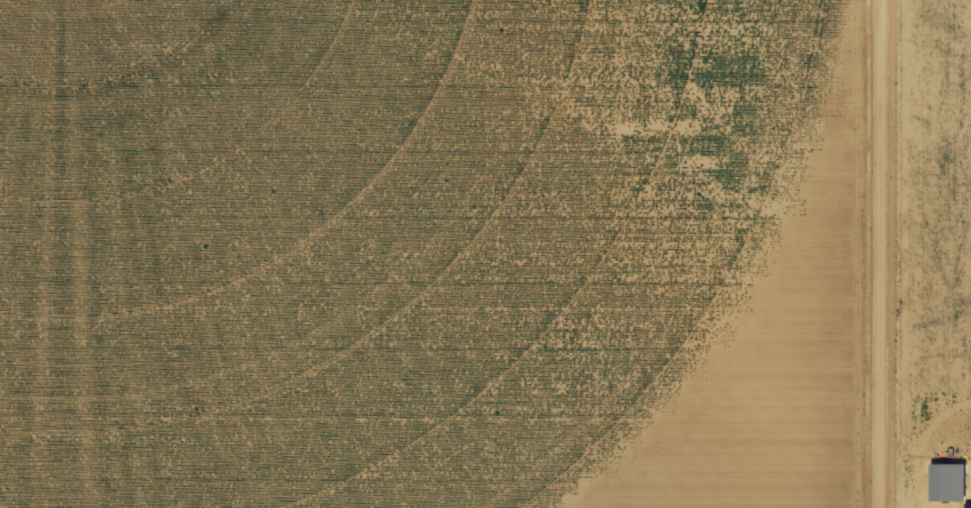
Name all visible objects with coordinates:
road: (884, 254)

